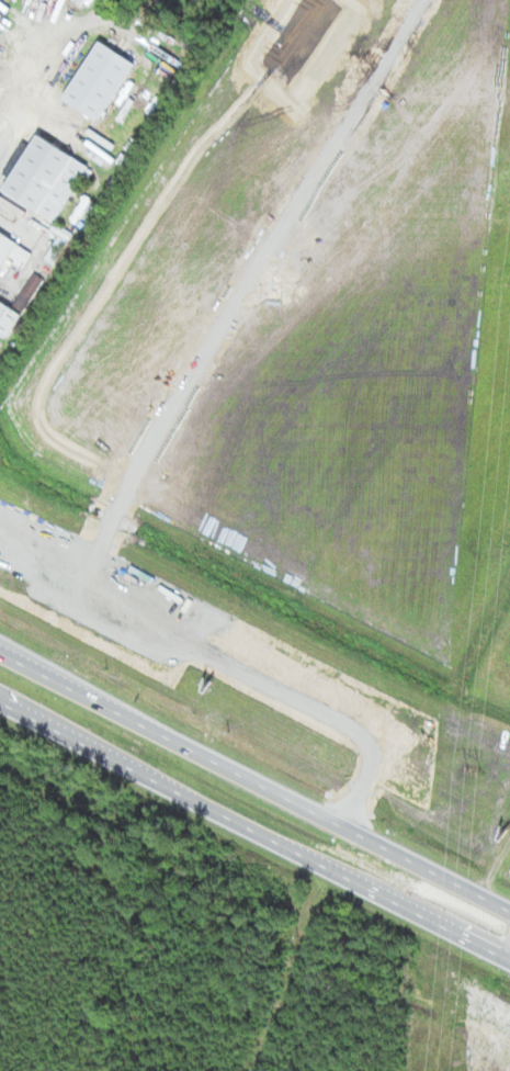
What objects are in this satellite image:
building: (95, 78)
building: (43, 176)
building: (12, 250)
building: (7, 318)
road: (10, 656)
road: (225, 767)
power tower: (471, 770)
road: (220, 814)
building: (254, 893)
road: (480, 897)
road: (476, 944)
road: (509, 960)

